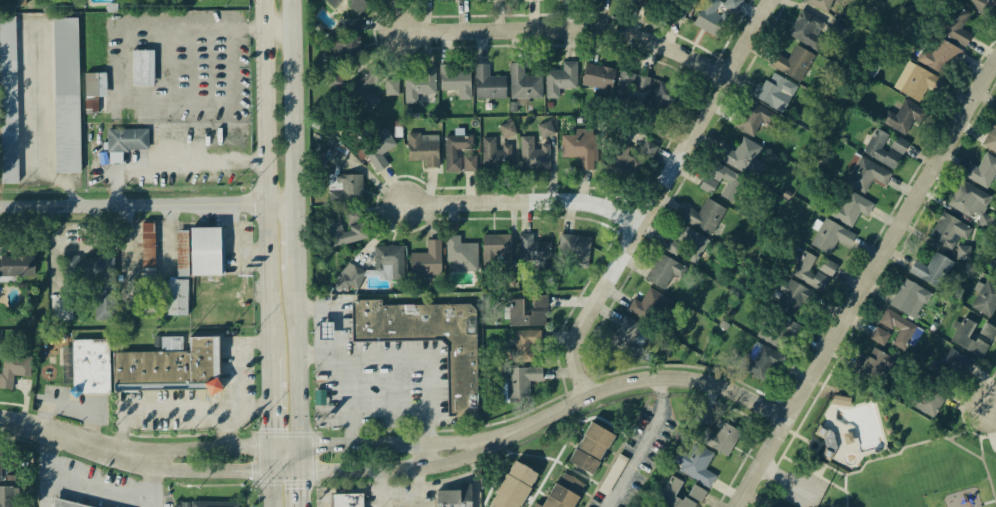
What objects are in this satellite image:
building: (383, 0)
building: (451, 0)
building: (498, 0)
building: (535, 0)
building: (564, 0)
building: (646, 0)
building: (845, 0)
building: (463, 1)
building: (677, 2)
building: (22, 3)
building: (348, 5)
building: (820, 5)
building: (734, 6)
building: (985, 7)
building: (712, 17)
road: (573, 29)
road: (279, 31)
building: (810, 33)
building: (946, 43)
building: (345, 47)
building: (793, 64)
building: (144, 70)
building: (561, 80)
building: (598, 80)
building: (455, 82)
building: (335, 83)
building: (488, 85)
building: (524, 85)
building: (918, 85)
building: (418, 86)
building: (92, 87)
building: (635, 87)
building: (392, 88)
building: (367, 90)
building: (774, 91)
building: (65, 97)
building: (665, 99)
road: (294, 101)
building: (8, 102)
building: (906, 119)
building: (756, 121)
road: (37, 124)
building: (545, 132)
building: (992, 140)
building: (128, 141)
building: (377, 150)
building: (423, 150)
building: (652, 150)
building: (885, 150)
building: (580, 151)
building: (460, 155)
building: (533, 156)
building: (743, 156)
building: (495, 158)
building: (631, 160)
road: (177, 165)
building: (984, 173)
building: (867, 176)
road: (266, 178)
building: (725, 185)
building: (346, 191)
road: (657, 194)
road: (524, 203)
road: (147, 204)
building: (972, 205)
building: (850, 210)
building: (705, 218)
building: (346, 229)
building: (949, 231)
road: (296, 234)
building: (831, 237)
building: (686, 245)
building: (498, 248)
building: (575, 248)
building: (147, 252)
building: (205, 252)
building: (534, 252)
building: (462, 254)
building: (965, 255)
building: (427, 261)
building: (389, 262)
building: (17, 267)
building: (89, 269)
building: (933, 270)
building: (664, 272)
building: (813, 272)
road: (884, 278)
building: (350, 280)
building: (179, 282)
road: (866, 283)
building: (791, 298)
building: (984, 299)
building: (910, 300)
building: (648, 307)
road: (338, 311)
building: (528, 312)
building: (778, 332)
building: (892, 333)
building: (624, 335)
building: (974, 338)
building: (429, 342)
building: (525, 346)
road: (406, 353)
building: (761, 363)
building: (171, 366)
building: (874, 366)
building: (90, 367)
road: (298, 368)
building: (955, 368)
building: (13, 370)
road: (242, 376)
road: (986, 378)
road: (632, 381)
building: (521, 383)
road: (349, 399)
building: (930, 399)
road: (216, 400)
road: (269, 401)
road: (993, 401)
building: (844, 403)
road: (966, 406)
road: (169, 411)
road: (69, 412)
road: (992, 425)
road: (969, 429)
road: (795, 433)
road: (959, 435)
road: (77, 437)
building: (720, 437)
road: (814, 440)
road: (456, 441)
building: (826, 443)
road: (365, 444)
road: (644, 445)
traffic signals: (270, 447)
traffic signals: (300, 447)
road: (226, 448)
building: (591, 450)
road: (431, 454)
road: (896, 454)
park: (877, 455)
road: (270, 459)
building: (0, 465)
building: (695, 466)
road: (817, 467)
road: (393, 468)
road: (987, 468)
road: (821, 470)
road: (209, 471)
traffic signals: (271, 471)
road: (285, 471)
traffic signals: (300, 471)
road: (821, 477)
road: (154, 481)
road: (790, 483)
road: (79, 484)
building: (513, 486)
road: (420, 487)
parking lot: (805, 488)
road: (271, 489)
road: (300, 489)
building: (672, 489)
road: (46, 491)
building: (563, 492)
building: (6, 497)
road: (388, 498)
building: (454, 498)
building: (347, 501)
road: (827, 503)
building: (214, 505)

